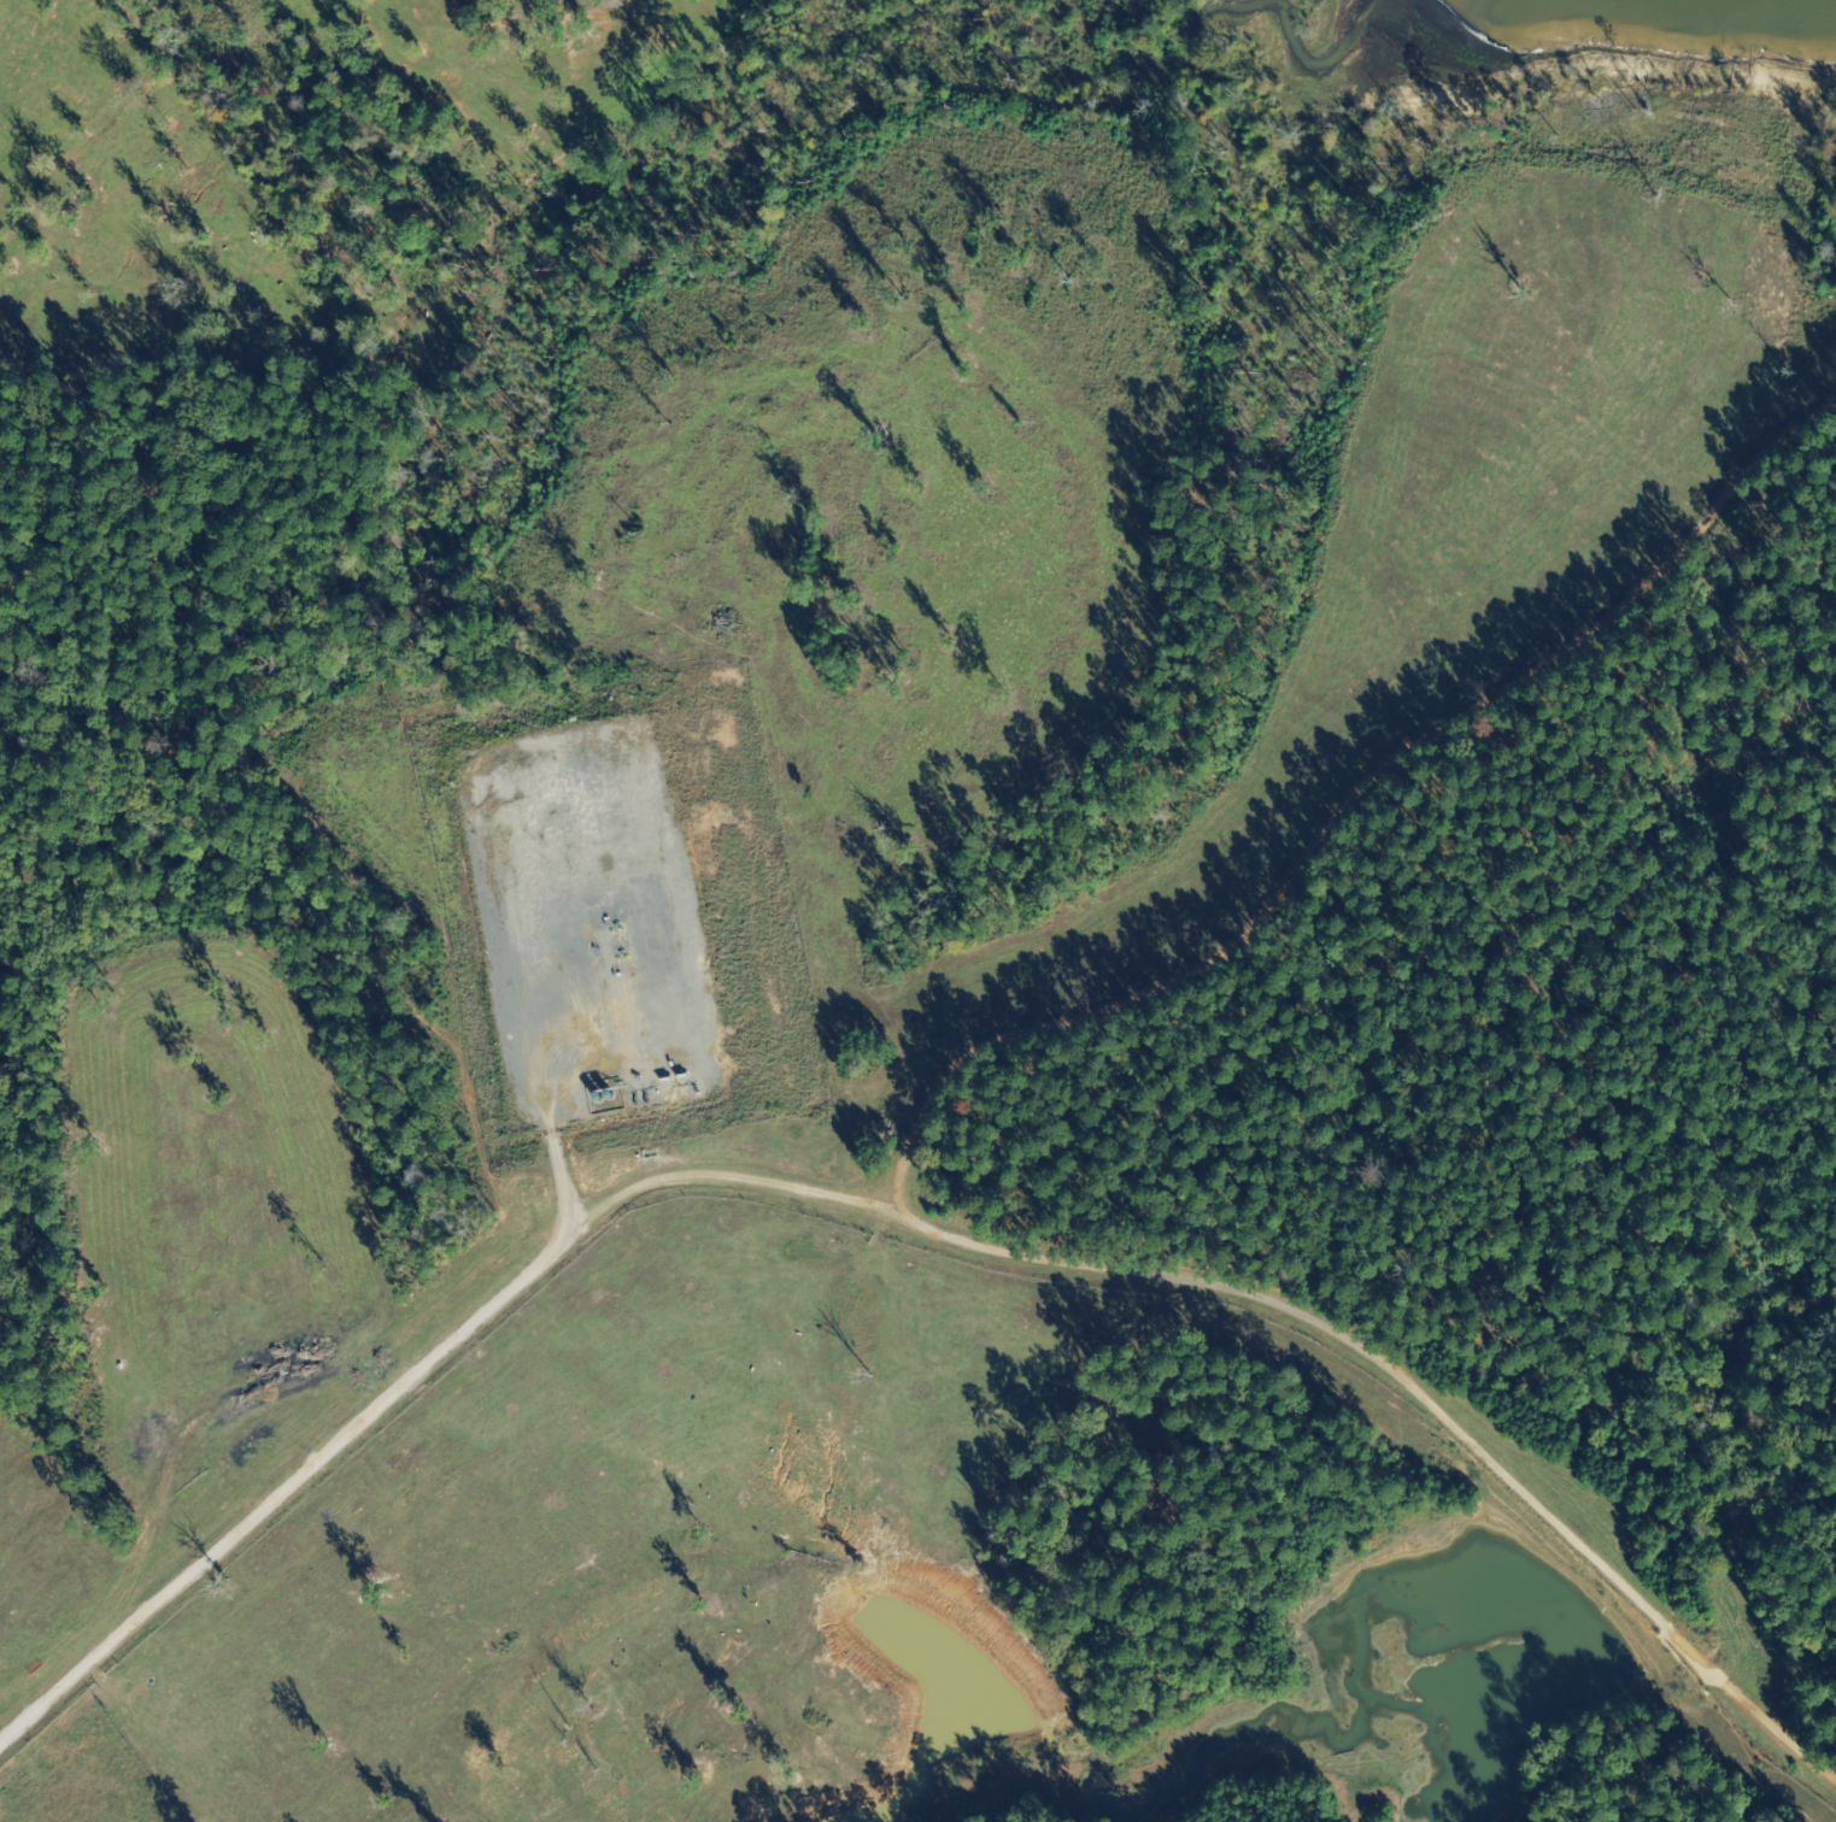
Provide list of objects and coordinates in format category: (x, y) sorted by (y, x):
road: (1375, 754)
road: (915, 1133)

